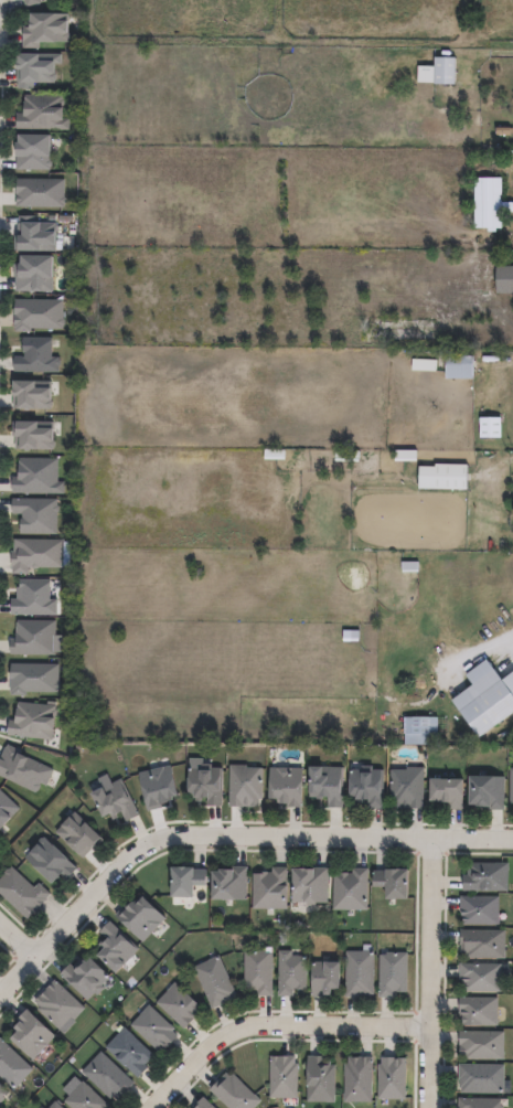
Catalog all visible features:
building: (21, 0)
building: (30, 2)
building: (44, 29)
building: (33, 68)
building: (447, 71)
building: (41, 114)
building: (30, 152)
building: (39, 193)
building: (489, 203)
building: (509, 206)
building: (32, 235)
building: (32, 274)
building: (505, 280)
building: (36, 315)
building: (34, 356)
building: (461, 367)
building: (30, 395)
building: (493, 428)
building: (32, 436)
building: (36, 477)
building: (446, 477)
building: (35, 516)
building: (34, 555)
building: (31, 599)
building: (33, 639)
road: (459, 669)
building: (32, 680)
building: (489, 701)
building: (32, 722)
building: (419, 732)
building: (22, 770)
building: (203, 786)
building: (324, 786)
building: (244, 787)
building: (285, 787)
building: (157, 788)
building: (365, 788)
building: (511, 788)
building: (406, 789)
building: (446, 793)
building: (485, 793)
building: (113, 802)
building: (6, 810)
building: (77, 837)
road: (226, 839)
building: (47, 863)
building: (485, 876)
building: (182, 880)
building: (391, 881)
building: (227, 883)
building: (308, 884)
building: (269, 888)
building: (350, 889)
building: (20, 895)
building: (479, 909)
building: (139, 917)
road: (17, 938)
building: (482, 944)
building: (114, 947)
building: (257, 971)
building: (290, 972)
building: (392, 972)
building: (359, 973)
road: (428, 974)
building: (84, 977)
building: (323, 977)
building: (480, 977)
building: (213, 981)
building: (57, 1004)
building: (178, 1004)
building: (478, 1011)
road: (275, 1026)
building: (152, 1027)
building: (29, 1035)
building: (482, 1045)
building: (129, 1052)
building: (11, 1066)
building: (106, 1076)
building: (282, 1077)
building: (391, 1078)
building: (481, 1078)
building: (357, 1079)
building: (319, 1080)
building: (1, 1093)
building: (233, 1093)
building: (84, 1098)
building: (479, 1102)
building: (203, 1104)
building: (53, 1106)

